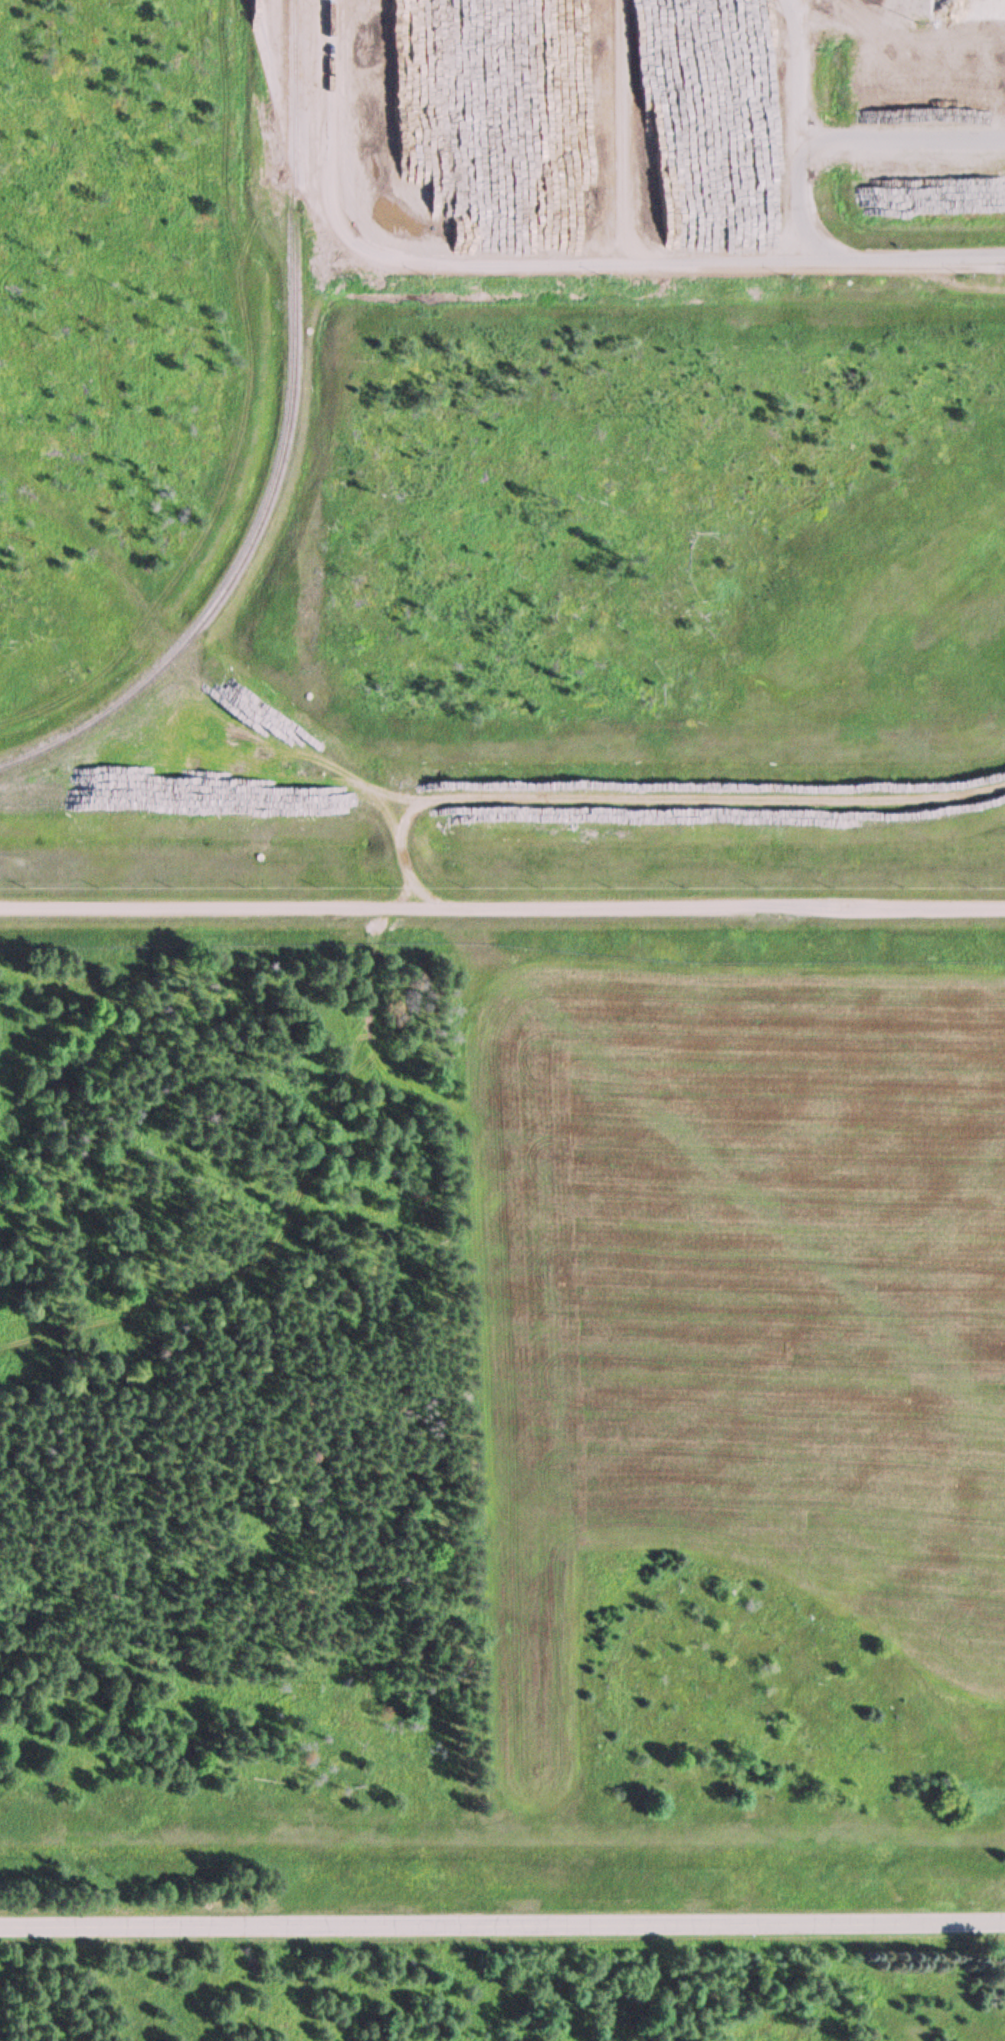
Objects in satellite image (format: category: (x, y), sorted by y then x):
road: (547, 260)
railway: (285, 445)
road: (658, 800)
road: (502, 906)
road: (502, 1923)

